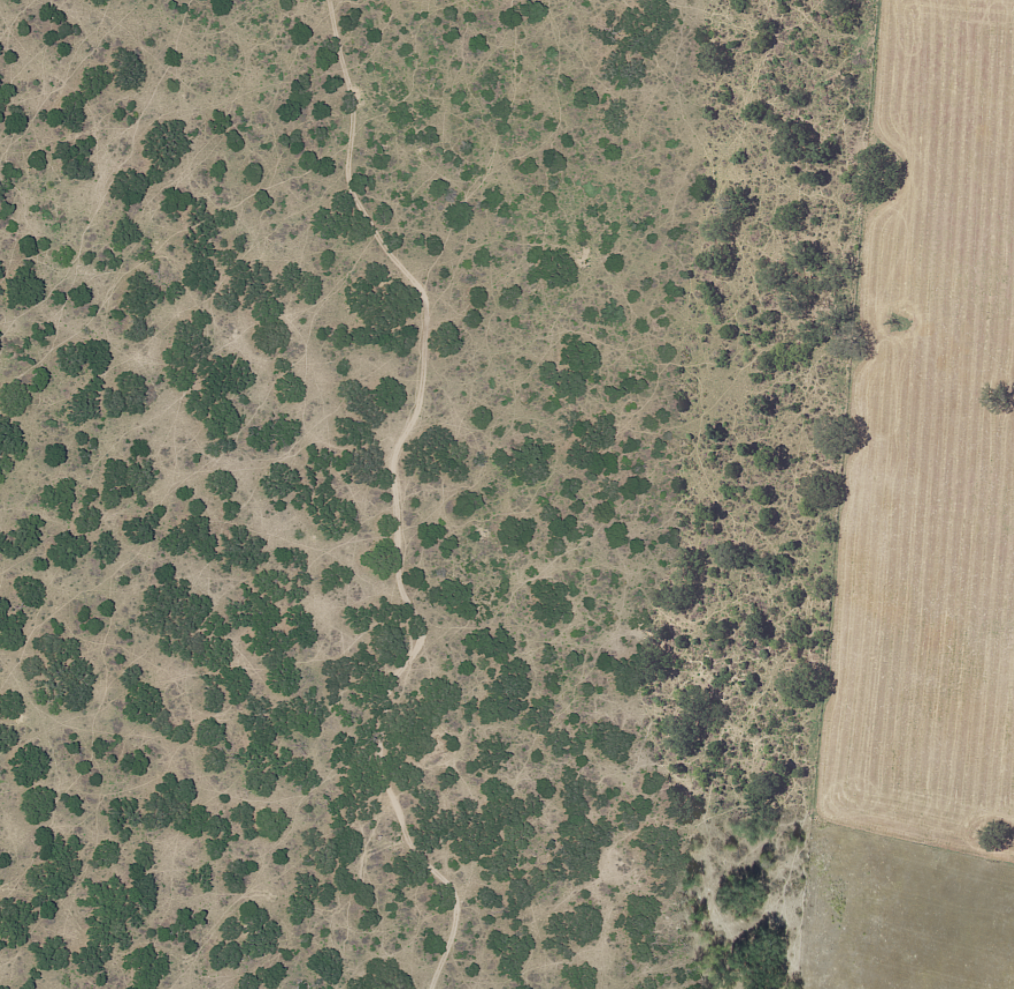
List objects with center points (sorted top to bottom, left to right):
road: (393, 497)

